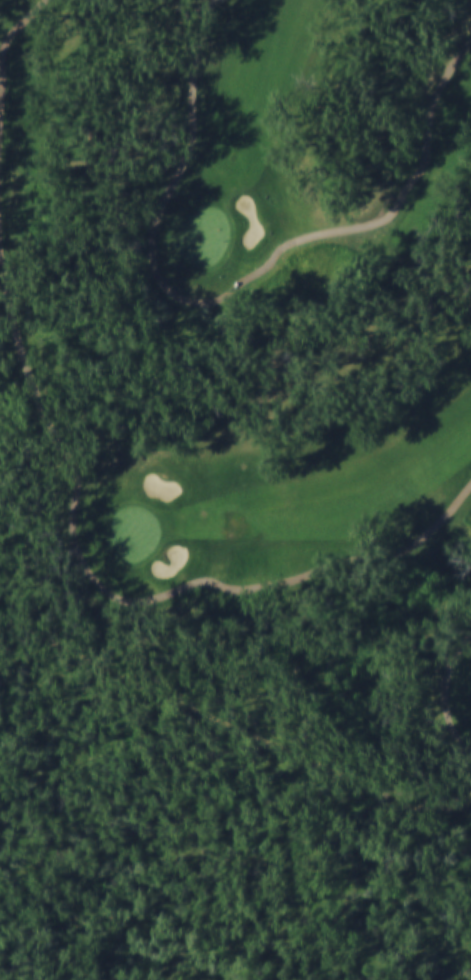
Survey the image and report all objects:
road: (4, 92)
road: (232, 289)
park: (246, 365)
road: (117, 596)
road: (443, 695)

